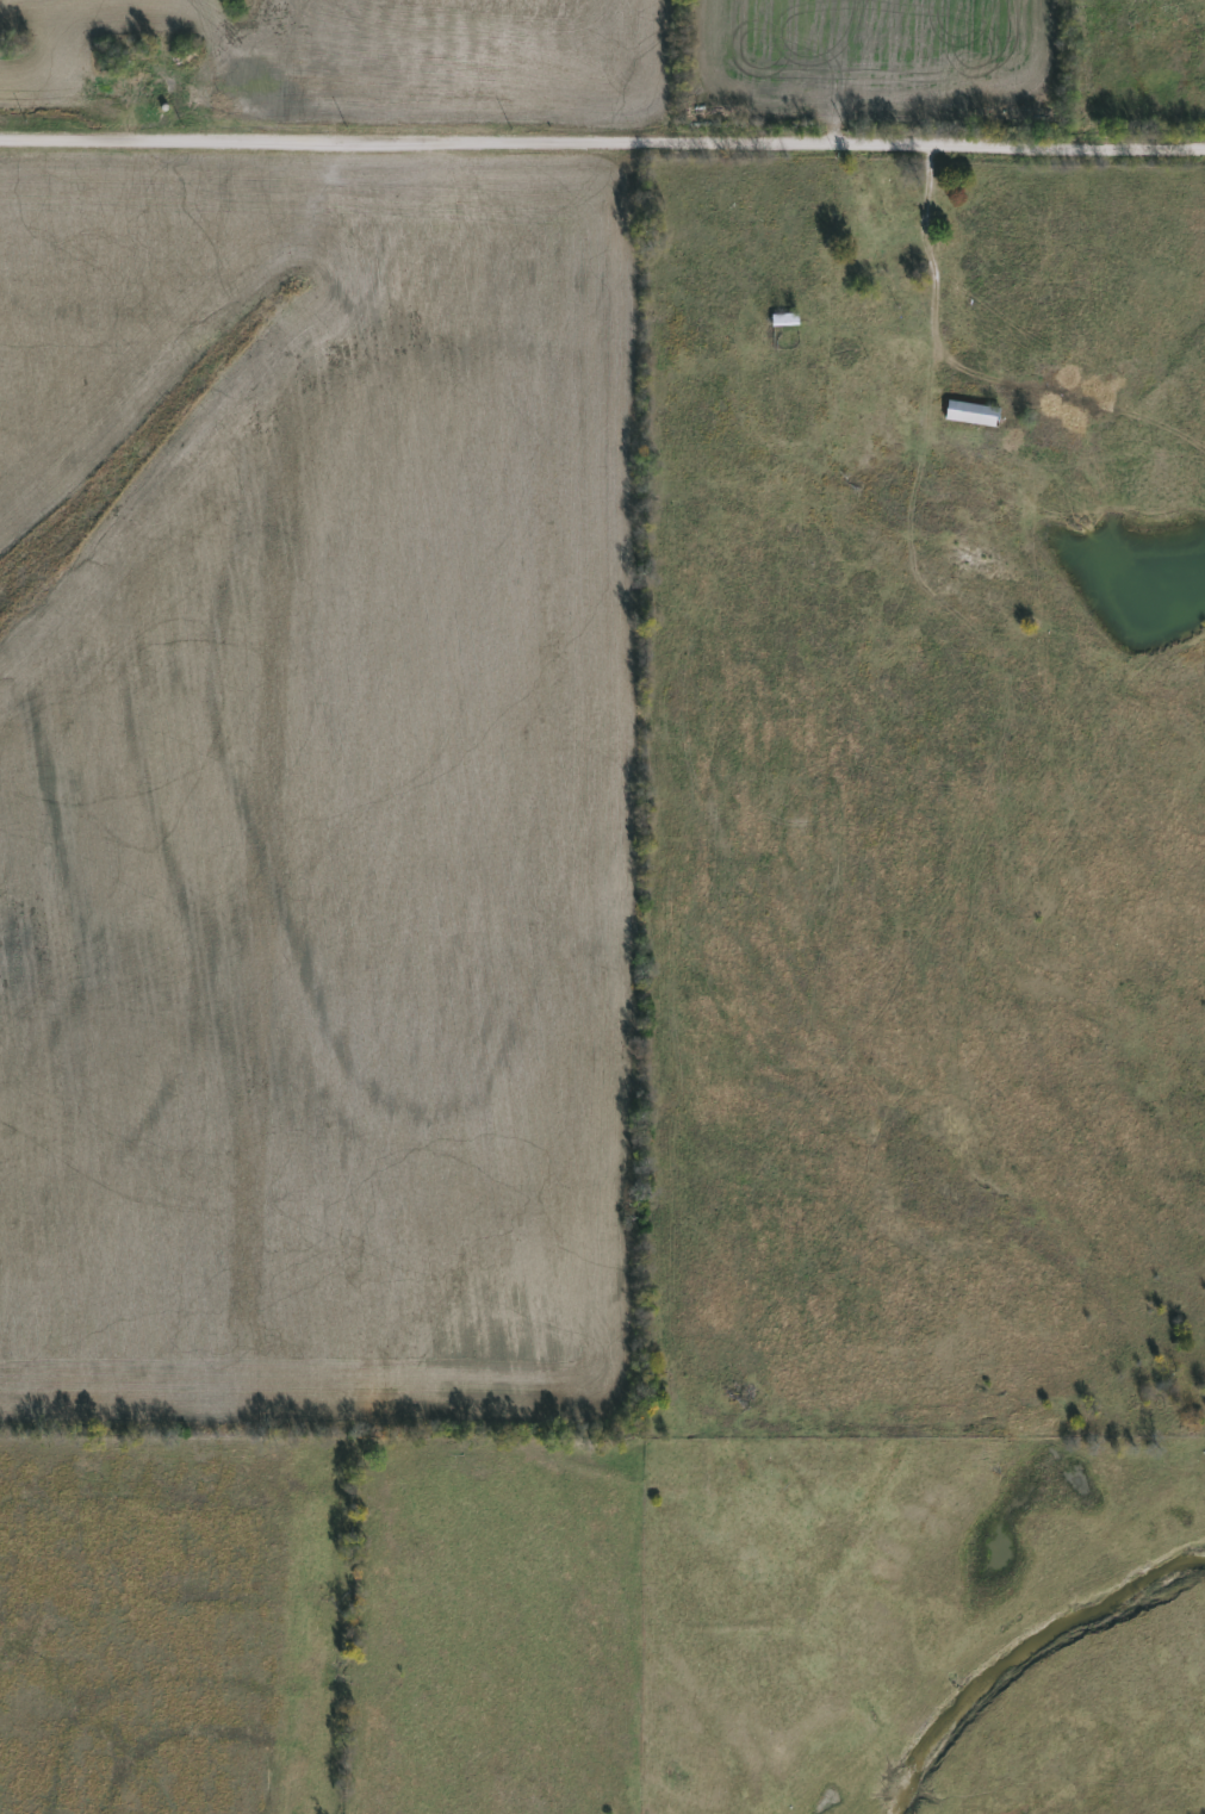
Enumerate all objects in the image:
road: (602, 151)
building: (874, 197)
road: (920, 273)
building: (784, 319)
building: (973, 414)

